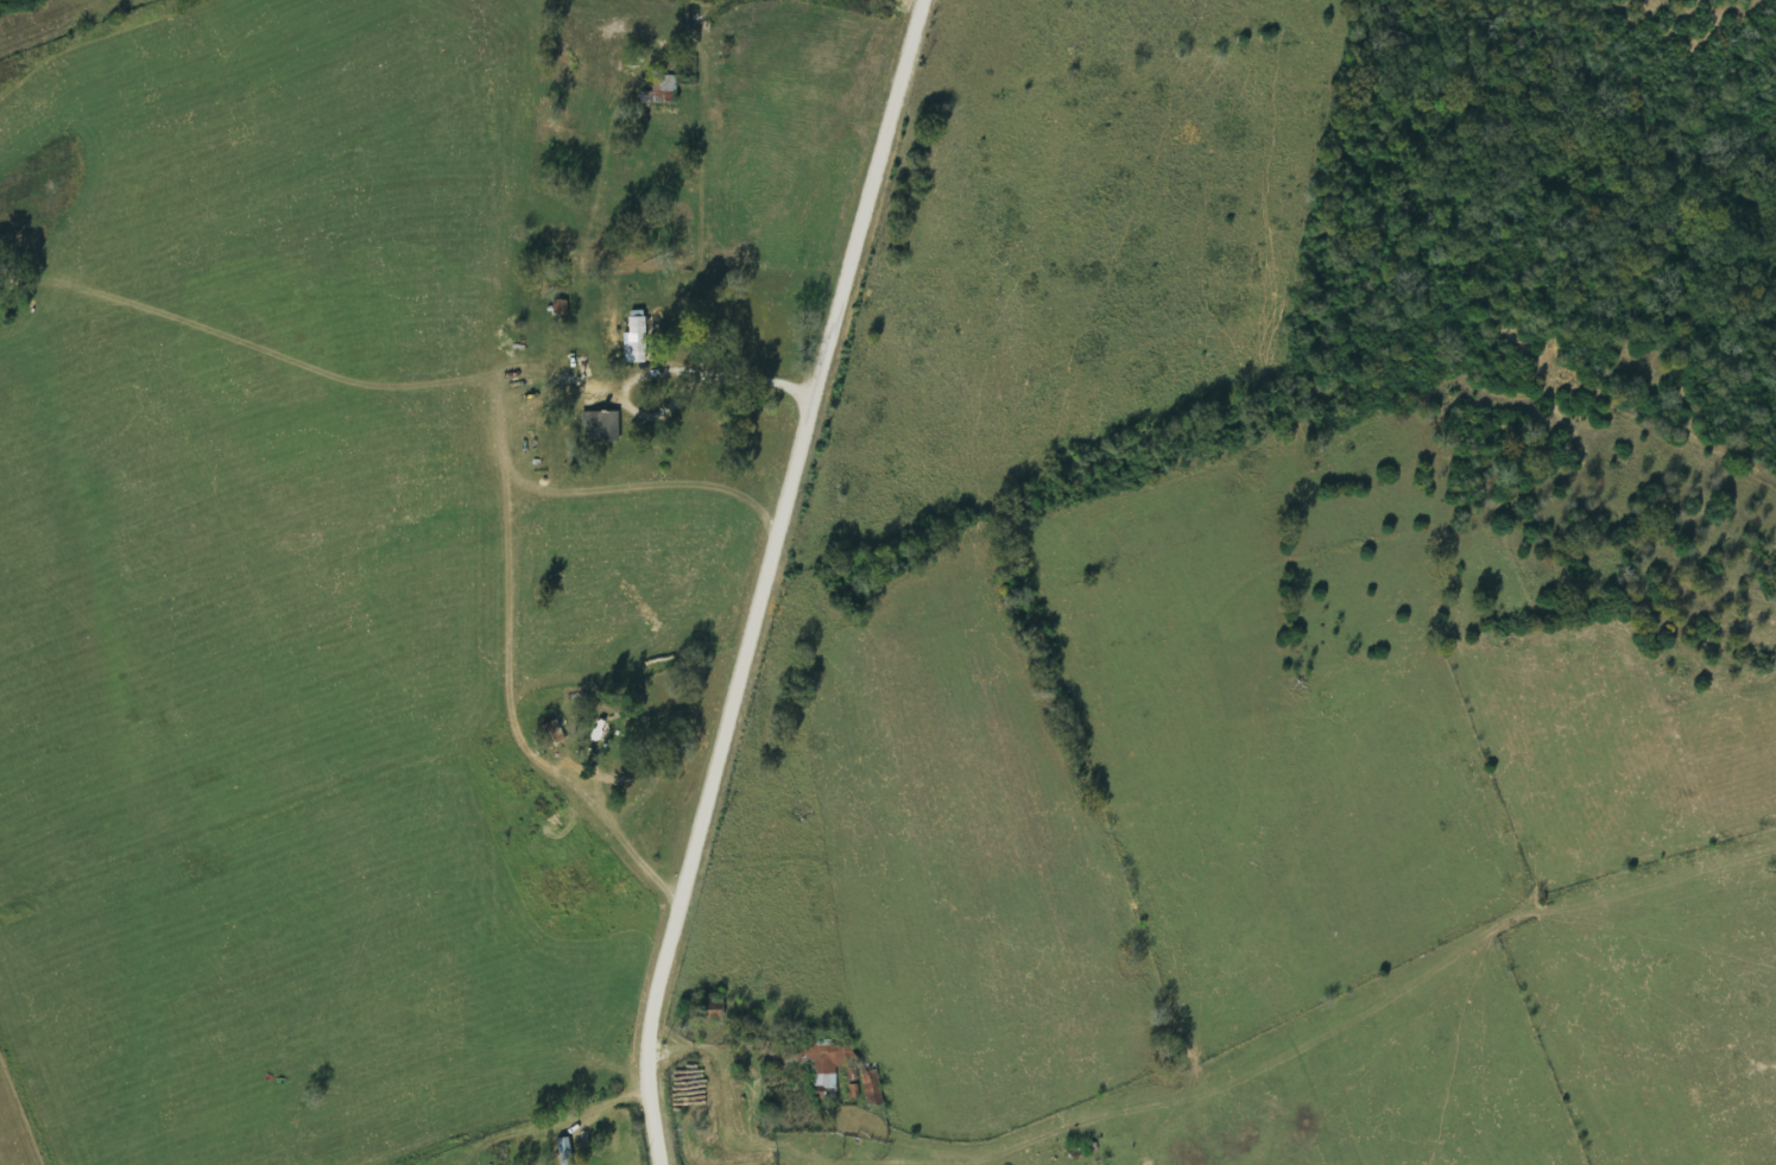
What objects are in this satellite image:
building: (659, 90)
building: (633, 341)
building: (599, 428)
road: (764, 580)
building: (568, 1151)

